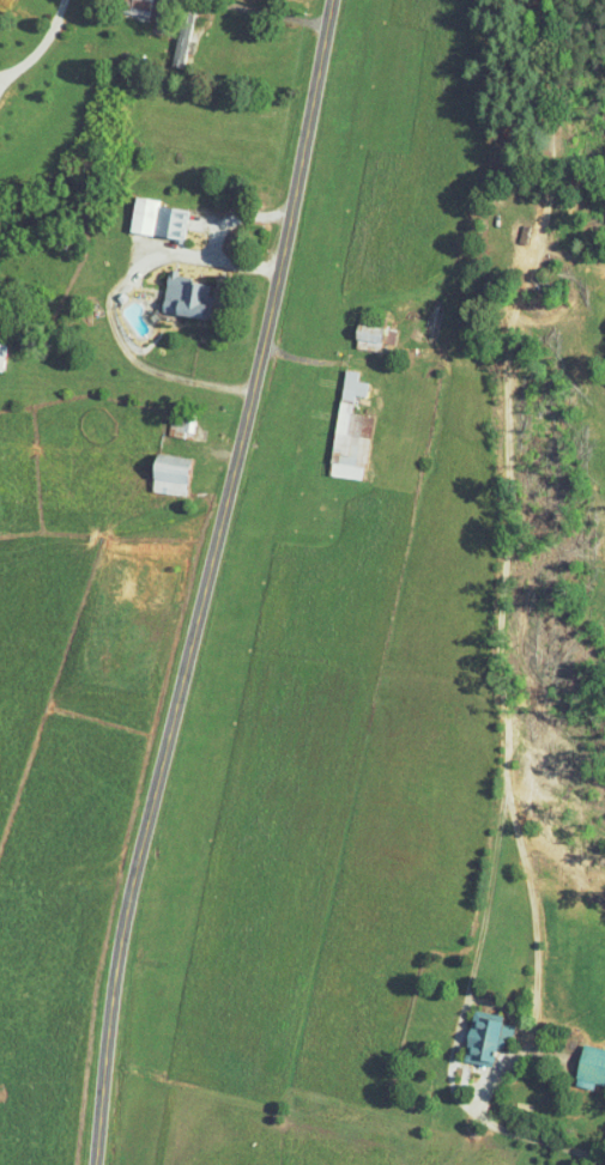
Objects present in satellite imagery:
building: (125, 4)
road: (264, 12)
building: (167, 32)
road: (42, 43)
road: (2, 73)
road: (2, 78)
building: (141, 211)
building: (171, 289)
building: (353, 329)
road: (500, 392)
building: (165, 419)
building: (334, 424)
building: (155, 467)
airport runway: (270, 475)
road: (205, 581)
building: (470, 1031)
building: (582, 1058)
road: (474, 1102)
road: (522, 1133)

